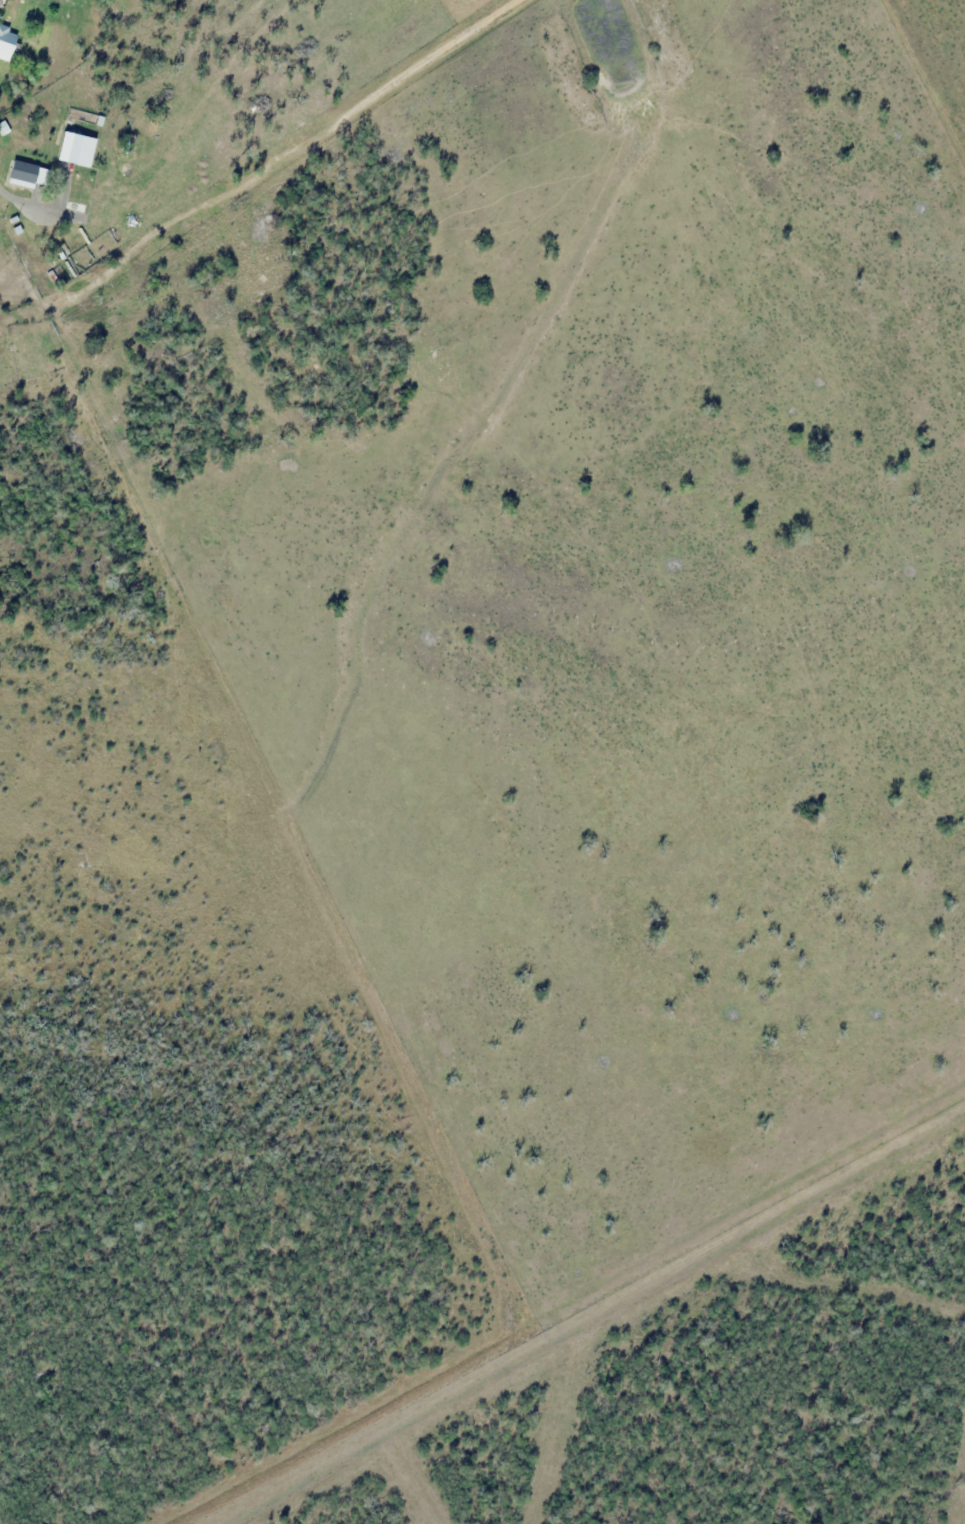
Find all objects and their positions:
building: (6, 41)
building: (124, 170)
building: (23, 171)
building: (75, 188)
building: (27, 199)
building: (117, 204)
building: (75, 214)
building: (94, 220)
building: (15, 225)

